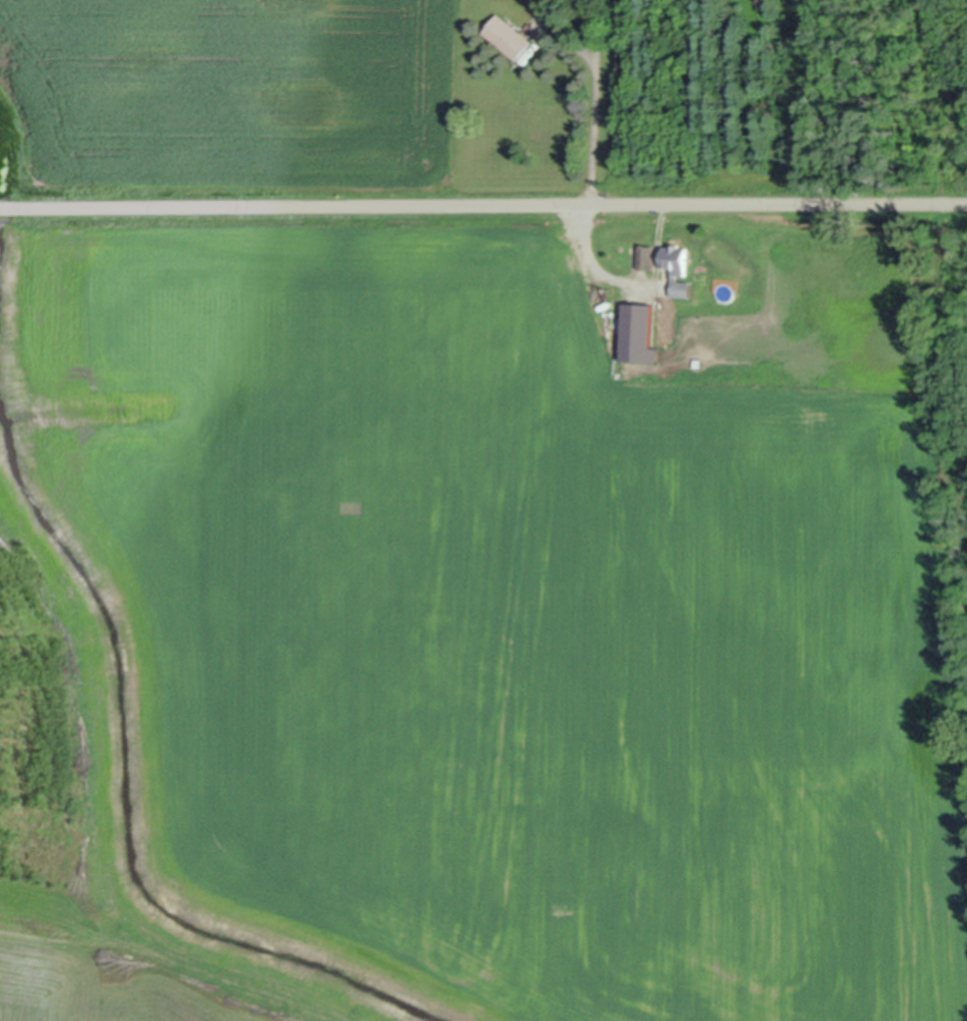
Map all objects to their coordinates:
road: (592, 31)
road: (564, 33)
building: (506, 35)
road: (589, 193)
road: (483, 203)
building: (644, 253)
building: (676, 266)

